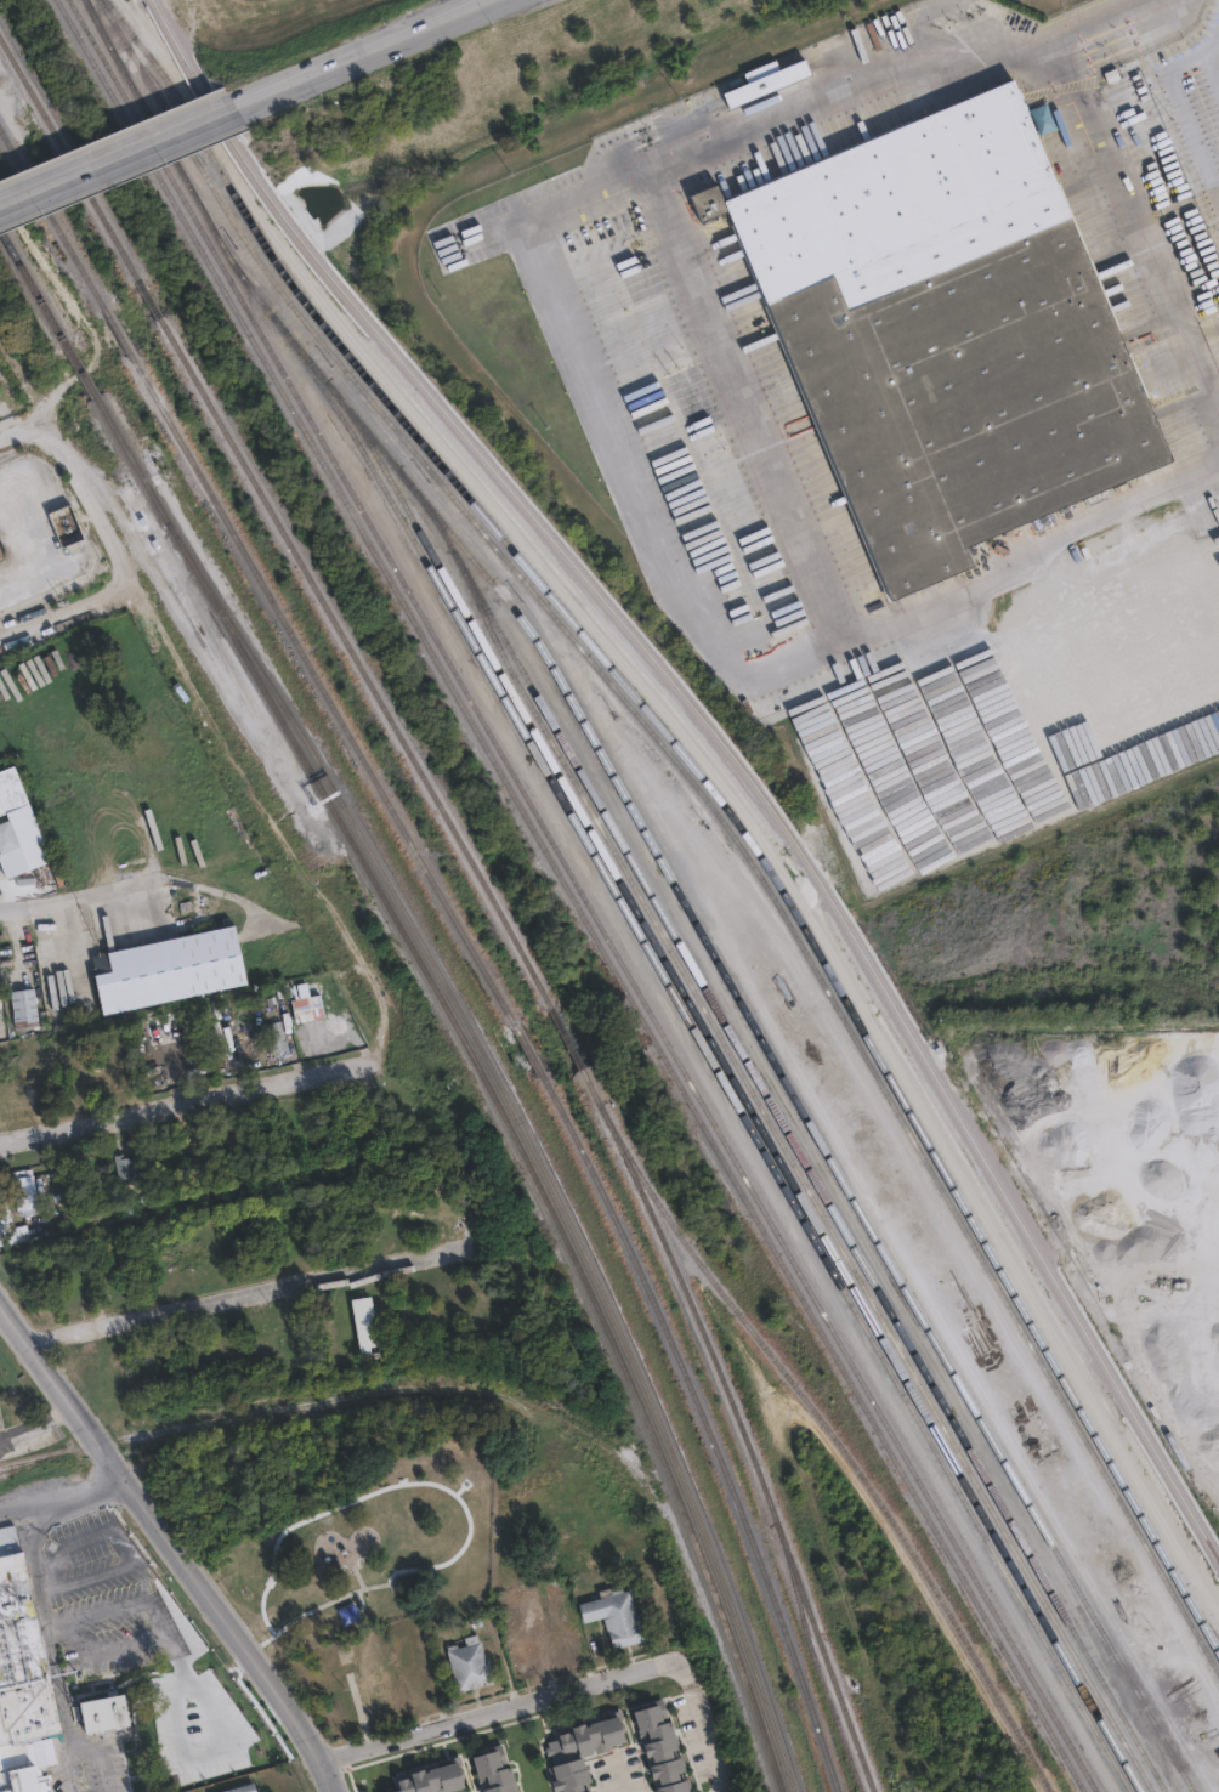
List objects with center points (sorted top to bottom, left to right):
road: (1123, 28)
road: (1132, 38)
railway: (129, 46)
road: (1134, 49)
road: (364, 53)
road: (1211, 69)
building: (764, 80)
road: (1179, 107)
parking lot: (1191, 107)
road: (790, 109)
road: (118, 157)
railway: (69, 163)
railway: (215, 186)
railway: (51, 219)
road: (1140, 228)
railway: (30, 283)
railway: (148, 302)
building: (943, 333)
road: (1203, 333)
railway: (117, 334)
parking lot: (1212, 335)
railway: (79, 367)
road: (747, 406)
road: (87, 482)
road: (67, 612)
road: (1004, 630)
railway: (352, 662)
road: (756, 677)
railway: (323, 688)
railway: (727, 752)
railway: (710, 786)
building: (10, 789)
building: (6, 837)
railway: (613, 891)
railway: (571, 895)
railway: (584, 895)
road: (89, 896)
railway: (796, 935)
building: (172, 970)
building: (311, 1004)
building: (19, 1005)
railway: (563, 1034)
building: (280, 1040)
railway: (767, 1040)
railway: (527, 1047)
railway: (480, 1073)
building: (10, 1091)
railway: (741, 1096)
road: (187, 1104)
railway: (525, 1135)
railway: (794, 1144)
building: (121, 1161)
railway: (798, 1176)
building: (19, 1186)
building: (2, 1227)
road: (253, 1292)
road: (1183, 1309)
building: (362, 1320)
building: (294, 1327)
road: (409, 1385)
railway: (738, 1423)
railway: (708, 1424)
railway: (841, 1446)
railway: (34, 1461)
railway: (24, 1465)
road: (63, 1499)
building: (1214, 1522)
park: (345, 1543)
road: (172, 1548)
building: (525, 1595)
building: (608, 1610)
building: (347, 1614)
road: (50, 1645)
building: (517, 1645)
building: (18, 1658)
railway: (813, 1658)
building: (465, 1660)
building: (204, 1700)
building: (104, 1706)
road: (500, 1709)
road: (696, 1725)
building: (603, 1728)
building: (659, 1747)
building: (202, 1756)
building: (566, 1756)
road: (98, 1757)
building: (492, 1770)
building: (442, 1773)
building: (409, 1781)
building: (25, 1782)
building: (2, 1784)
building: (240, 1788)

